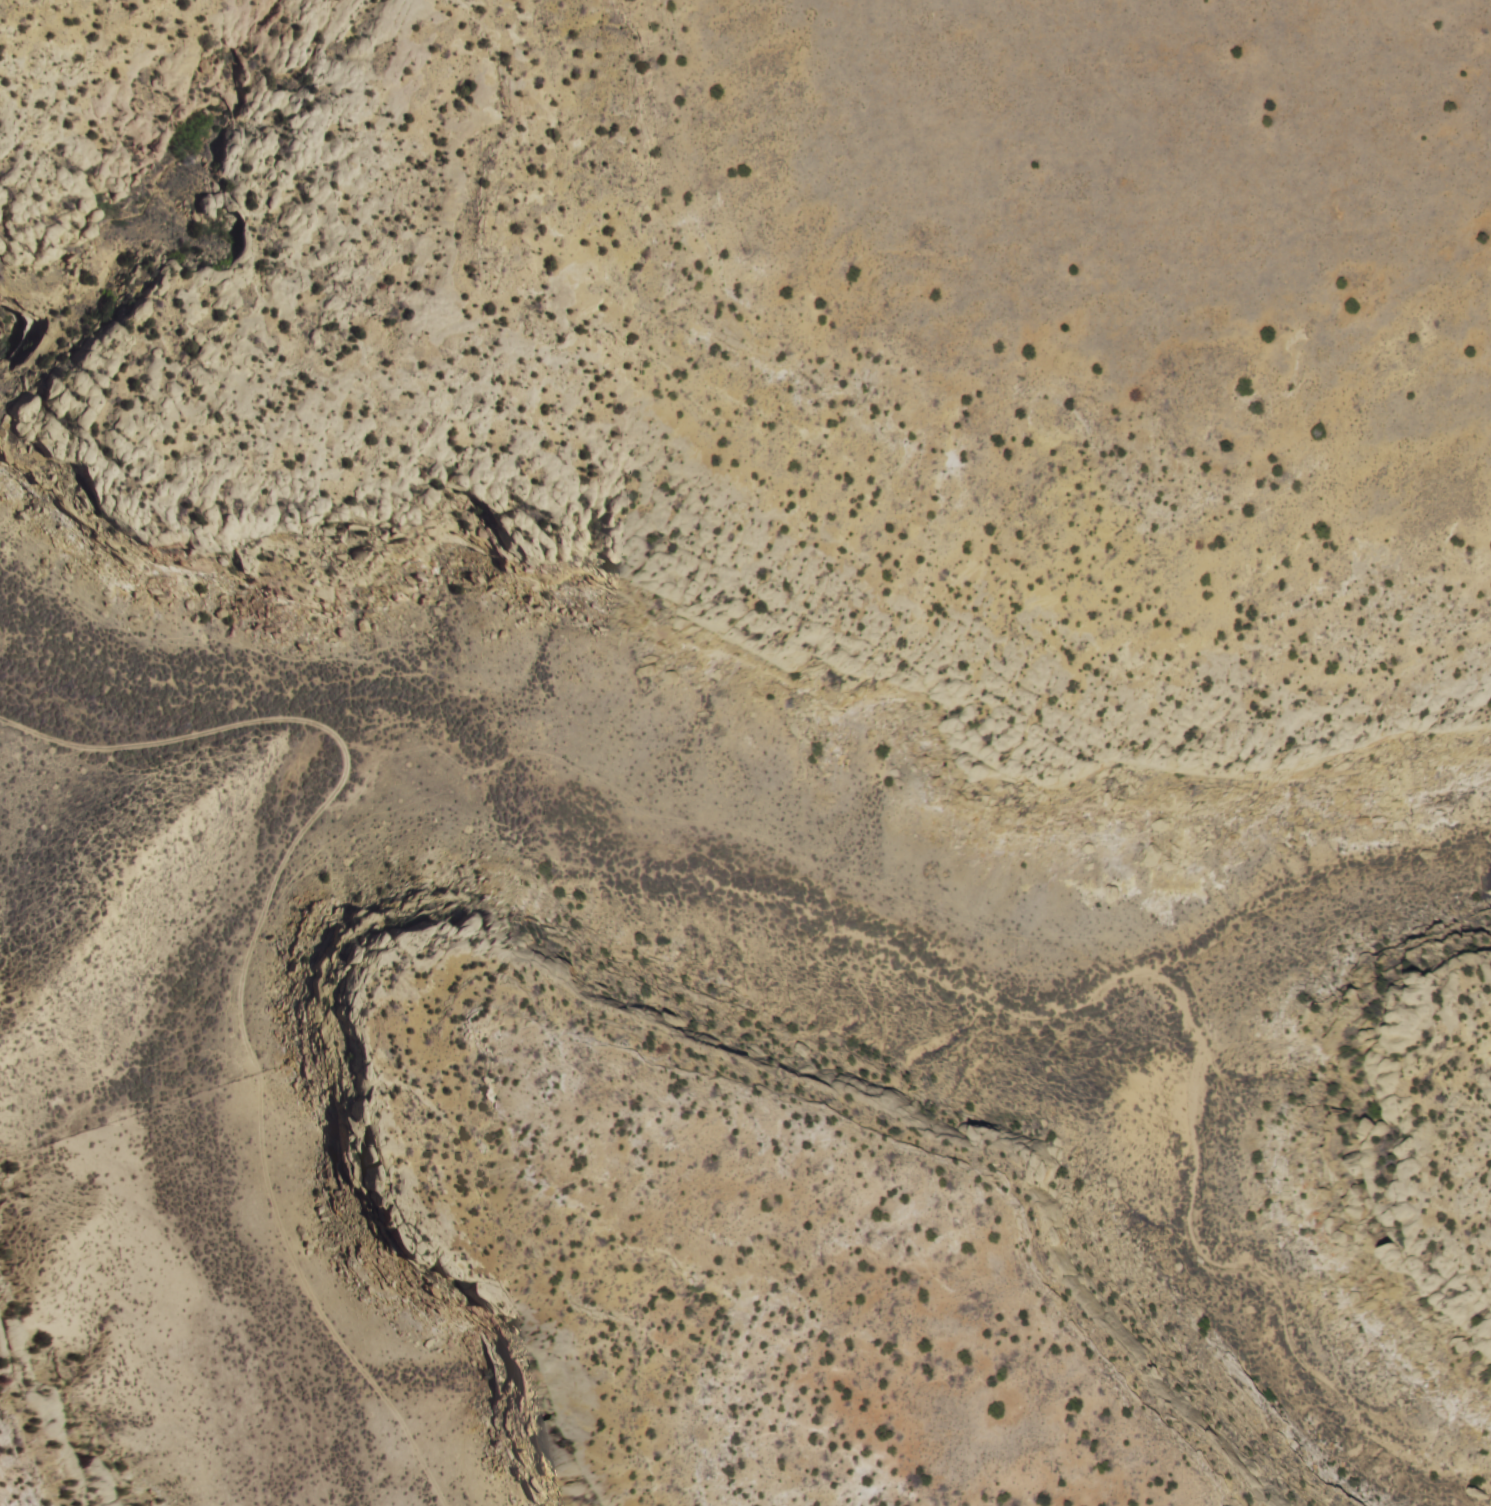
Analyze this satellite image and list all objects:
river: (212, 957)
road: (312, 963)

